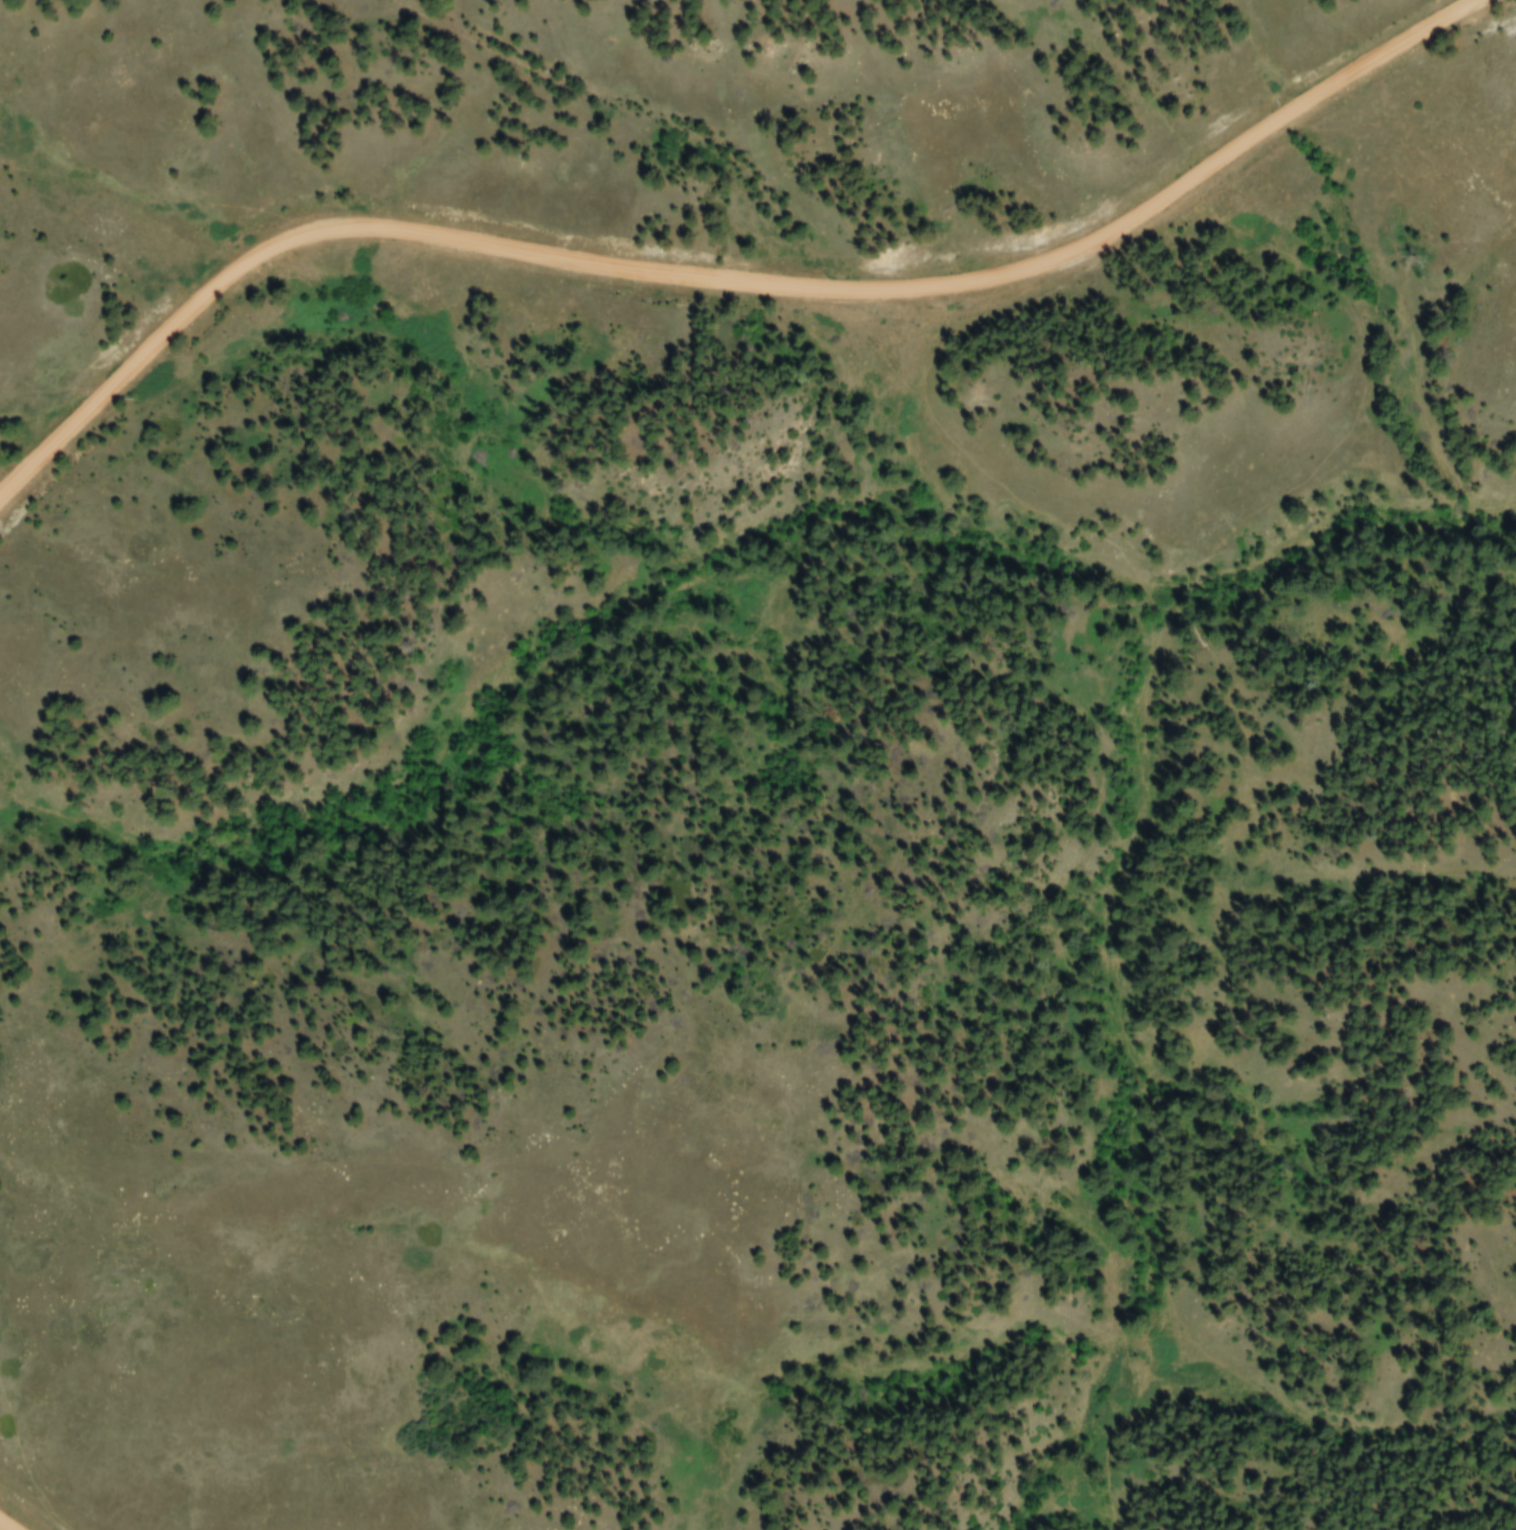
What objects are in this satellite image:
road: (643, 102)
road: (716, 281)
road: (5, 1526)

